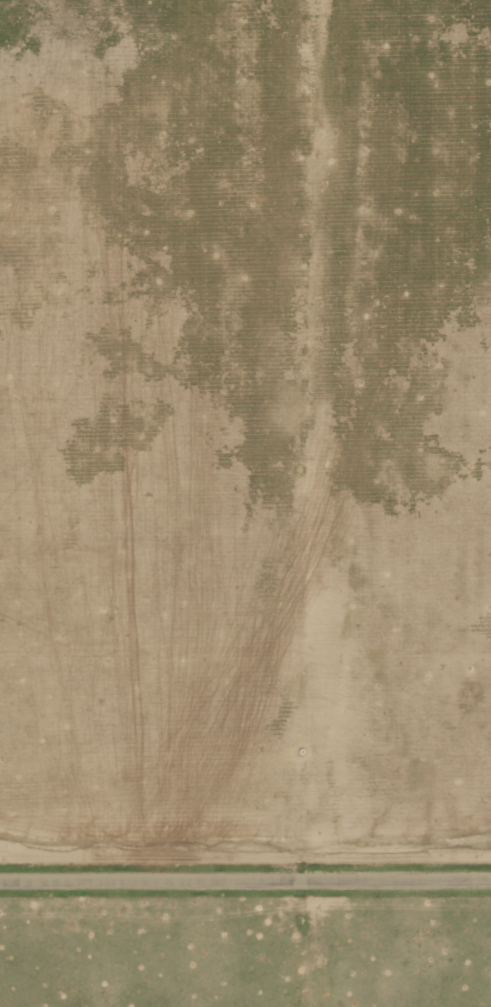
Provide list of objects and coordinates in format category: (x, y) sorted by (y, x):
road: (245, 878)

